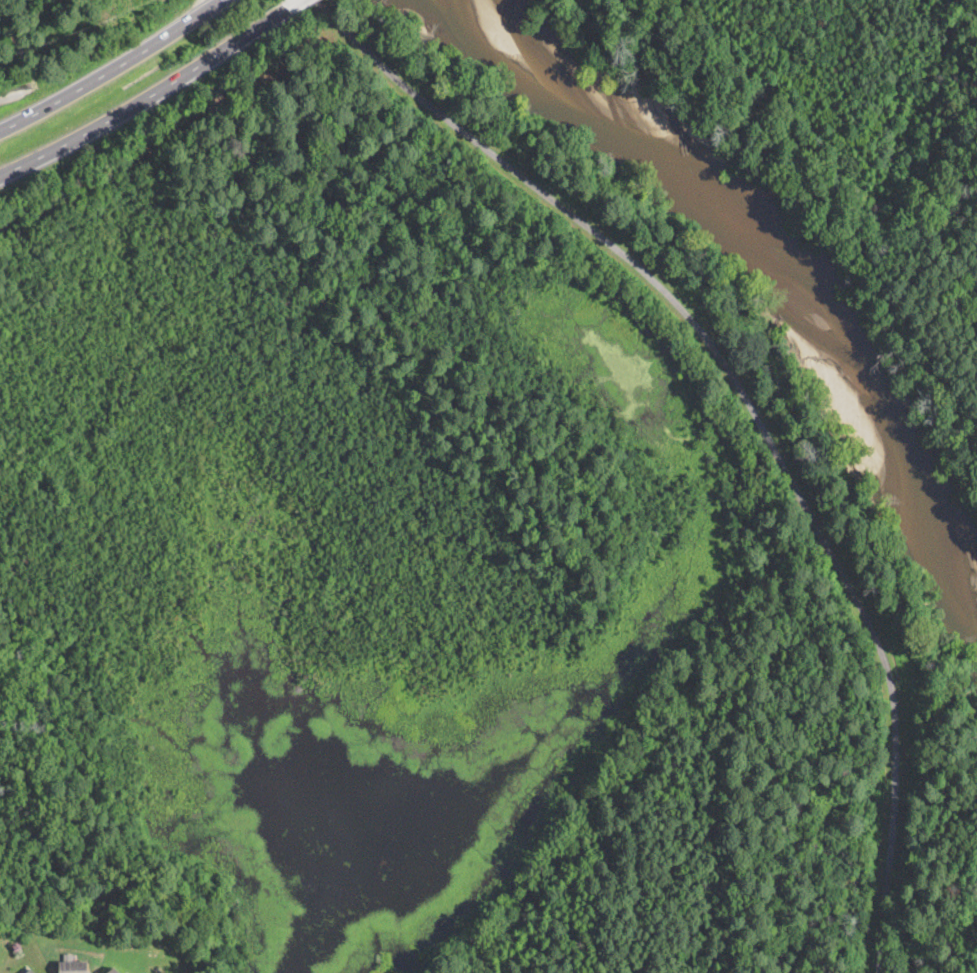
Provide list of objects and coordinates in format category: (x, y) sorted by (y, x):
road: (294, 4)
road: (113, 70)
road: (148, 99)
river: (748, 248)
road: (728, 377)
park: (451, 558)
road: (878, 939)
building: (73, 967)
building: (113, 970)
building: (31, 971)

